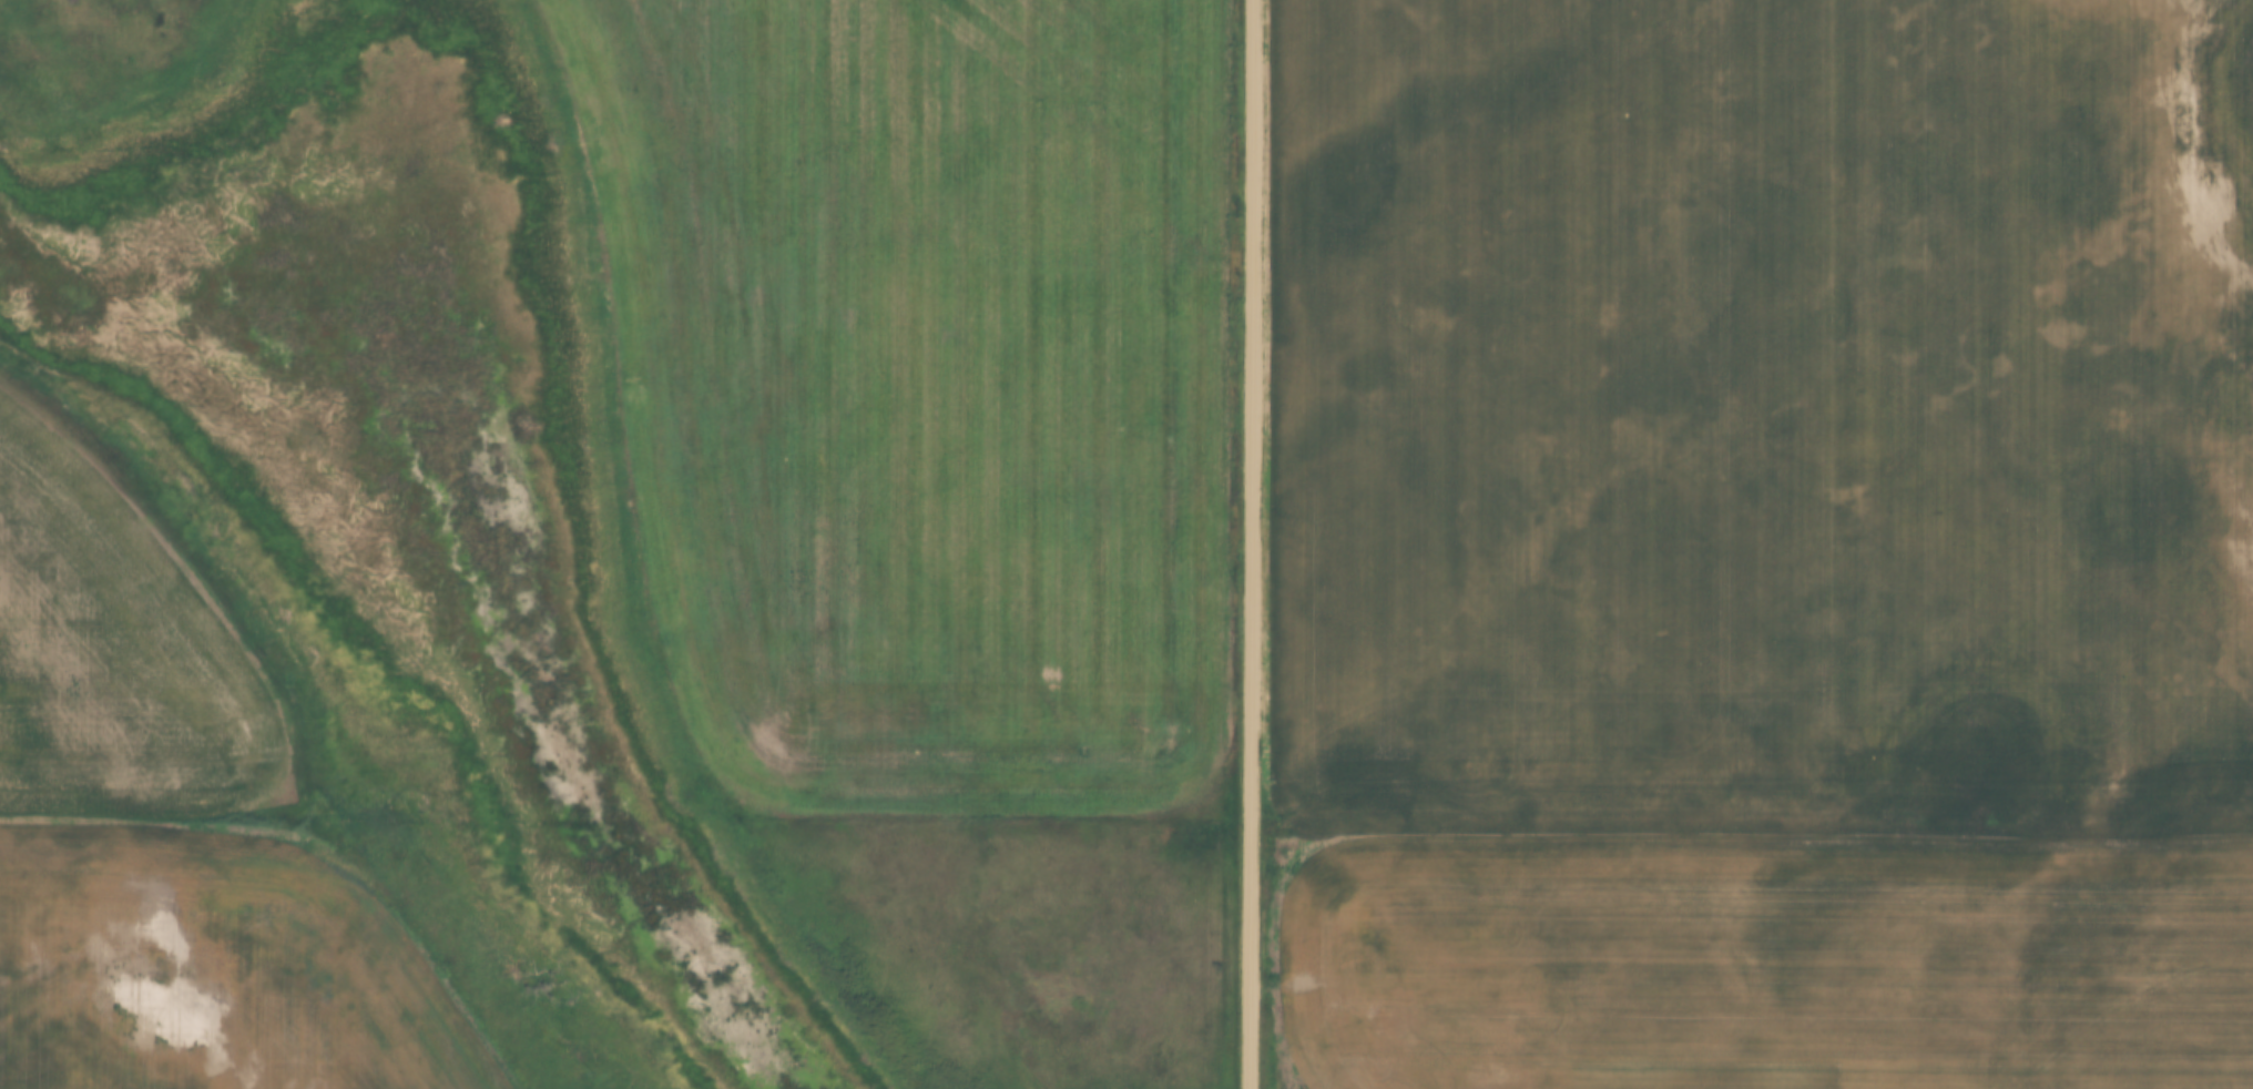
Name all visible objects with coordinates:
road: (1253, 544)

